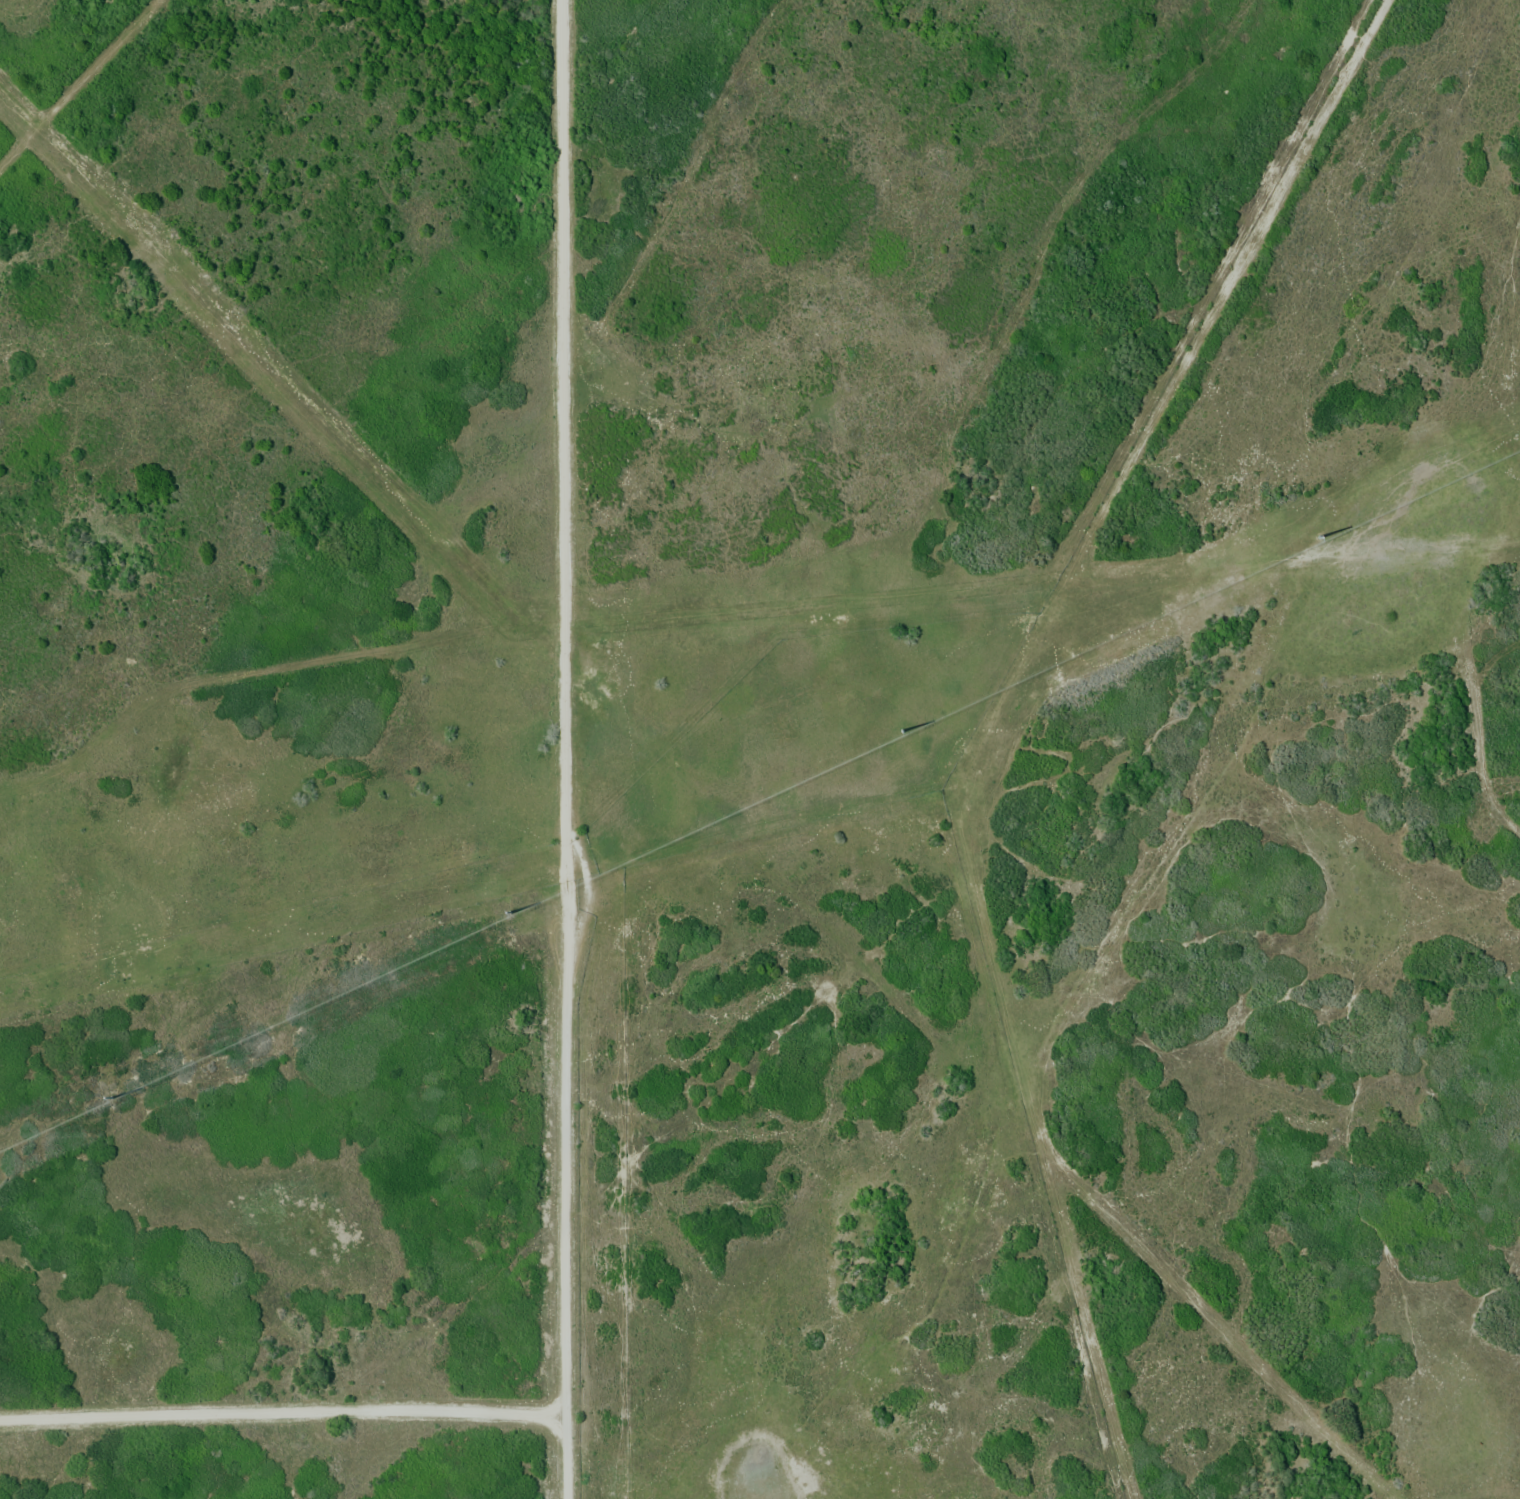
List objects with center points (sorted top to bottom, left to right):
power tower: (1317, 538)
power tower: (901, 730)
road: (556, 749)
power tower: (510, 915)
power tower: (110, 1096)

